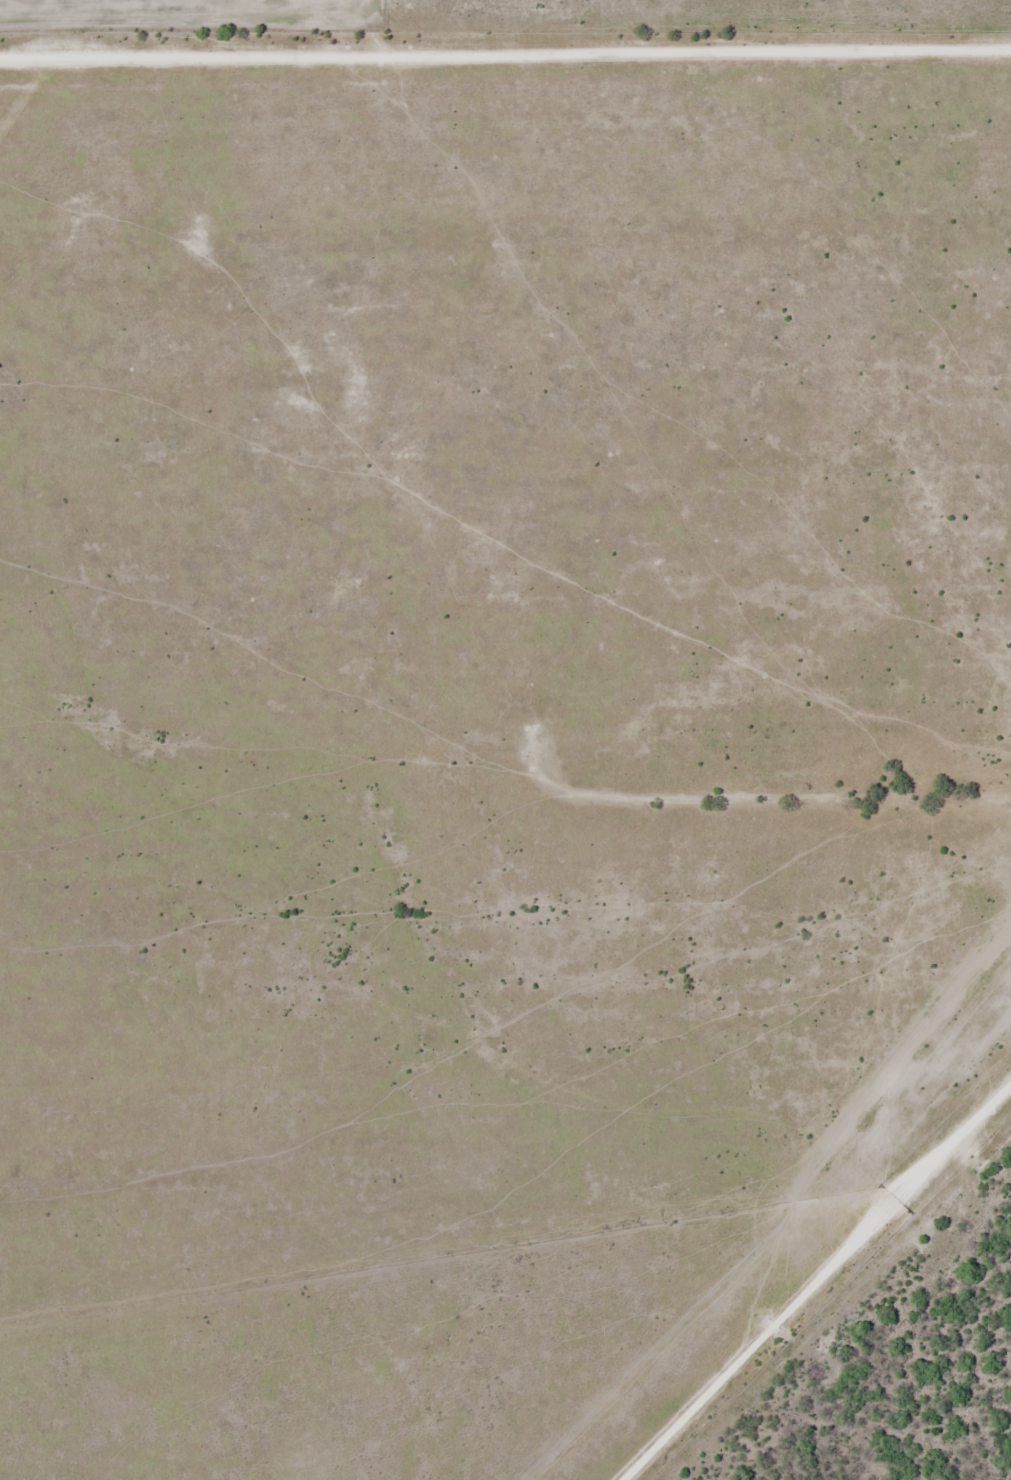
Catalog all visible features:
road: (505, 87)
road: (797, 796)
road: (824, 1289)

